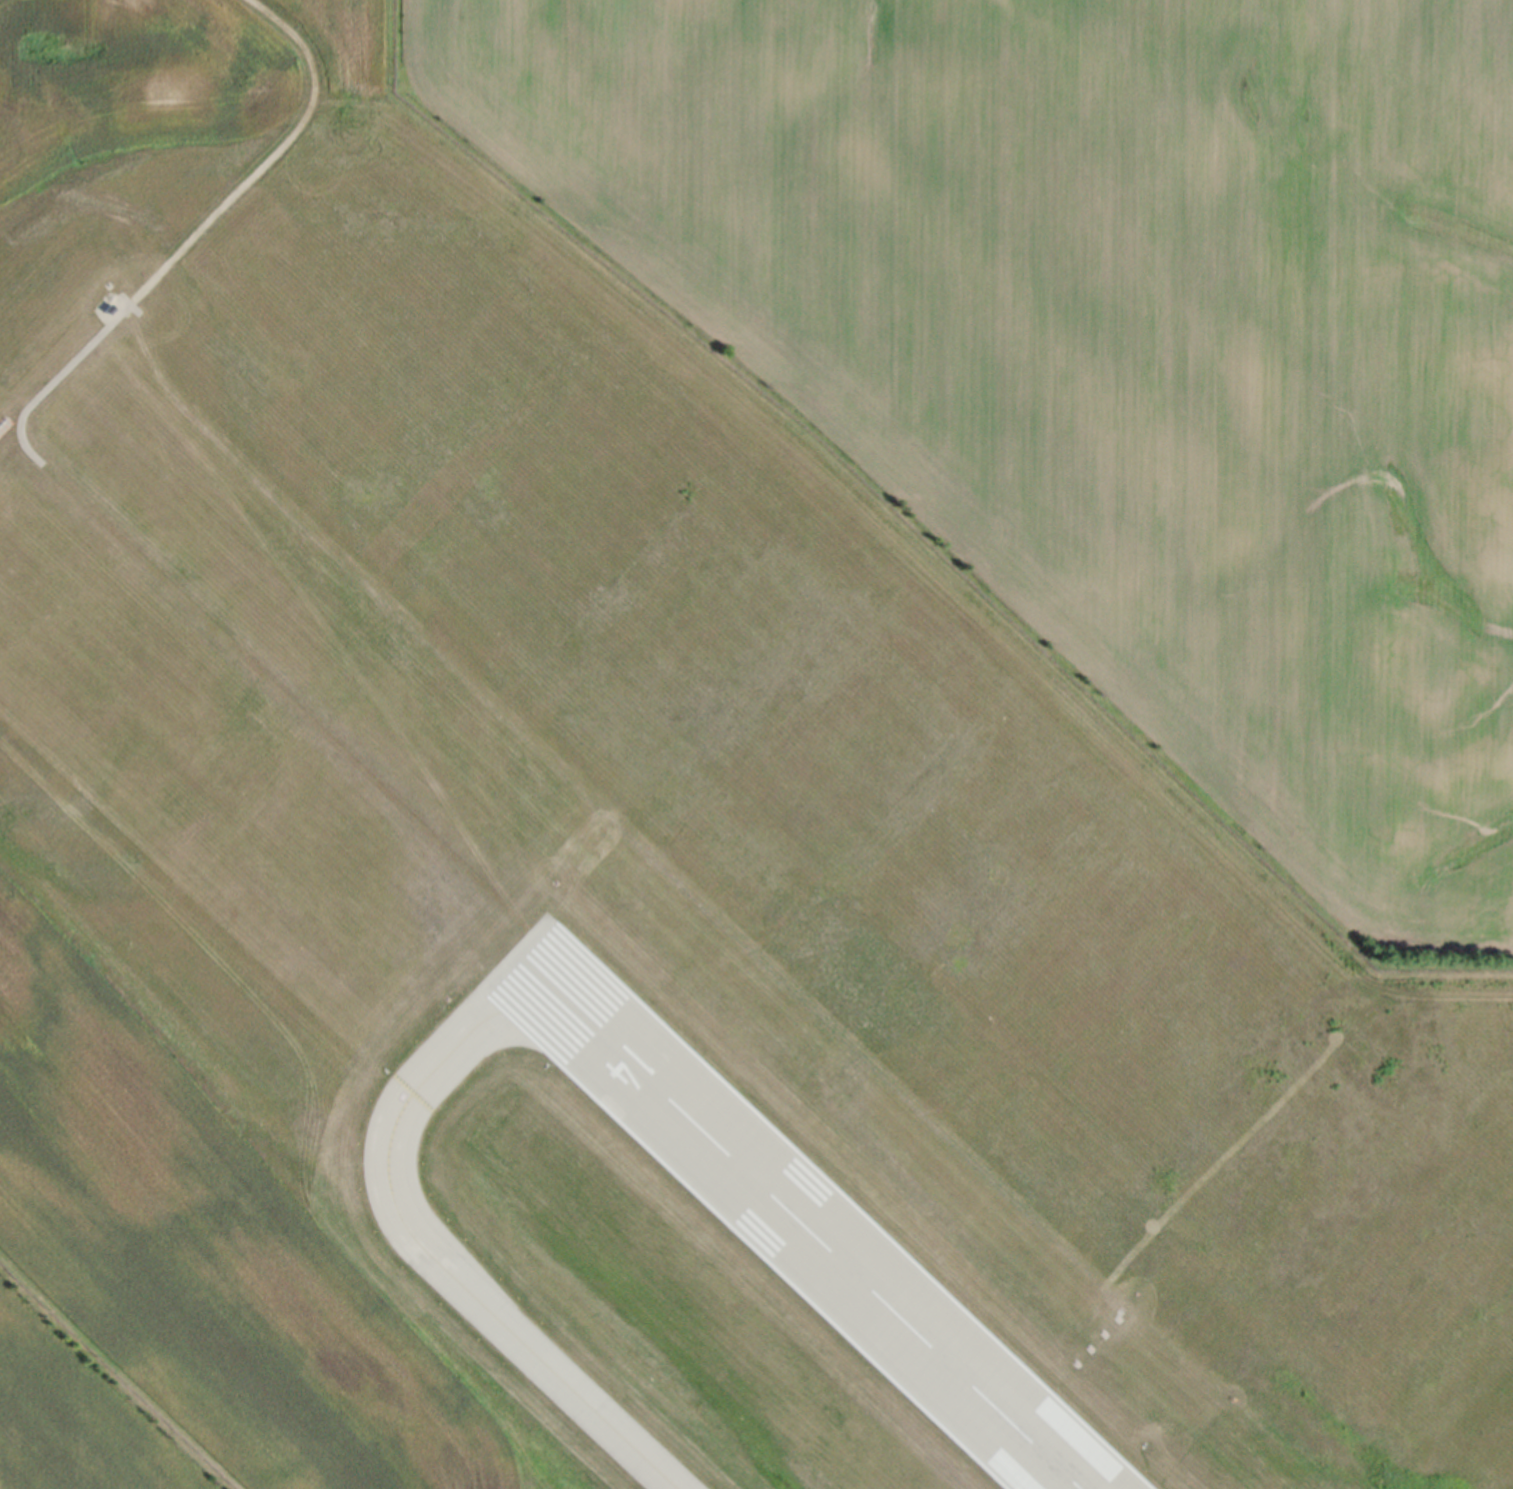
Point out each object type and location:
crop: (1108, 359)
airport: (623, 891)
airport taxiway: (458, 1044)
airport runway: (794, 1219)
airport taxiway: (505, 1324)

